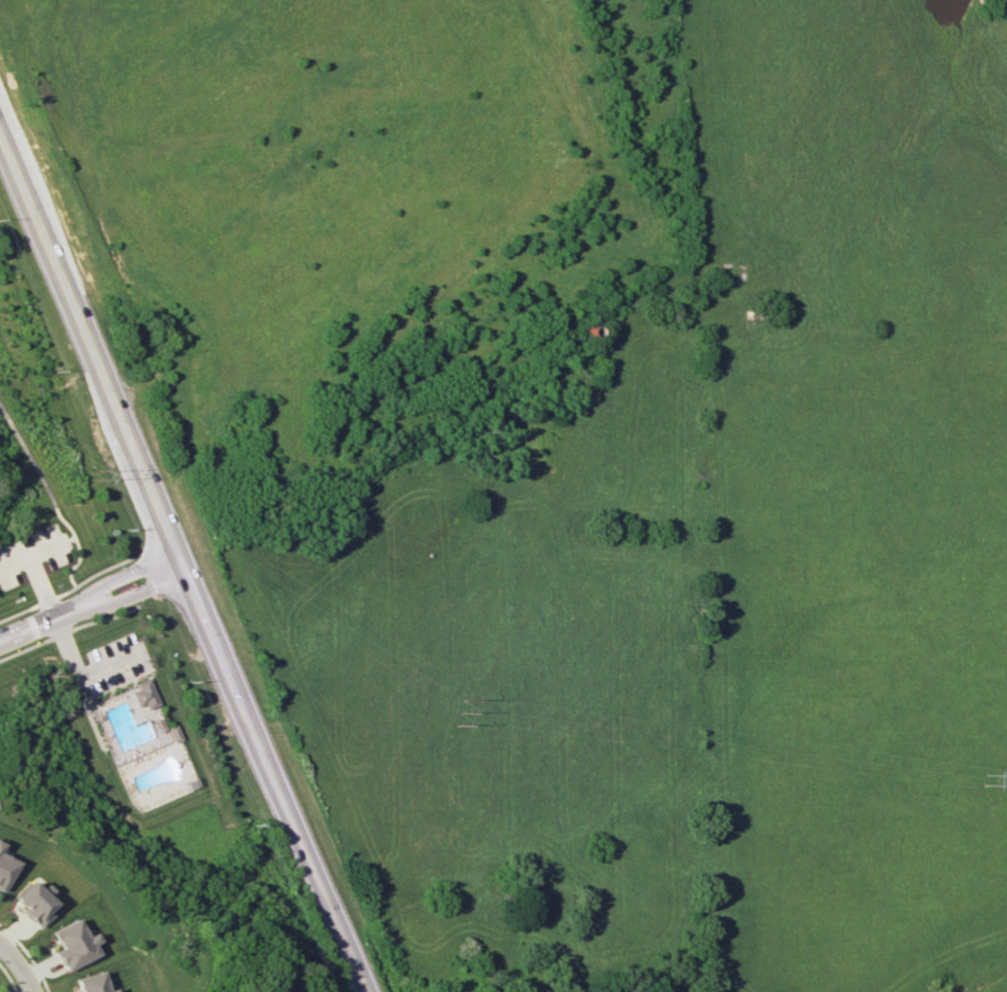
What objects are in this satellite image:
power tower: (99, 475)
road: (52, 497)
road: (185, 557)
road: (93, 601)
road: (79, 673)
building: (143, 694)
power tower: (458, 713)
power tower: (985, 780)
building: (5, 870)
building: (32, 902)
building: (71, 944)
road: (18, 965)
building: (89, 983)

